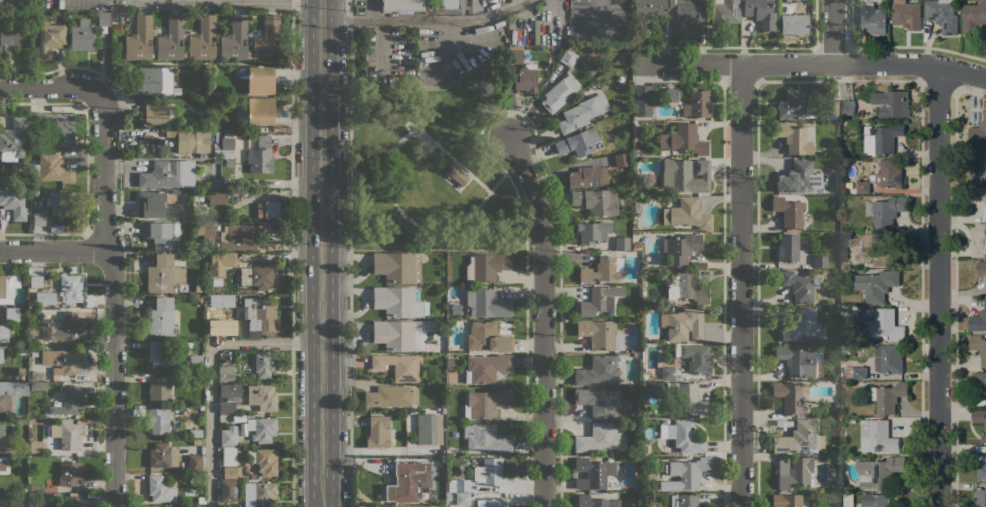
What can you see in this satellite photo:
road: (291, 0)
road: (163, 1)
road: (203, 1)
road: (110, 2)
road: (217, 2)
building: (447, 4)
building: (404, 5)
road: (475, 10)
road: (371, 11)
building: (648, 11)
building: (724, 11)
building: (905, 12)
building: (760, 13)
building: (685, 14)
building: (942, 15)
building: (973, 17)
building: (103, 19)
building: (872, 19)
road: (425, 21)
building: (794, 24)
road: (833, 31)
building: (81, 36)
building: (139, 38)
building: (10, 39)
building: (171, 39)
building: (203, 39)
building: (235, 39)
building: (267, 39)
building: (49, 40)
building: (515, 55)
building: (568, 58)
road: (910, 63)
road: (737, 64)
building: (527, 78)
building: (154, 80)
building: (260, 80)
road: (48, 89)
building: (177, 91)
building: (817, 92)
building: (559, 93)
building: (671, 95)
building: (643, 101)
building: (892, 103)
building: (697, 105)
building: (794, 105)
building: (830, 109)
building: (848, 109)
building: (158, 111)
building: (260, 111)
building: (582, 113)
road: (349, 123)
building: (56, 127)
building: (978, 132)
building: (795, 137)
building: (687, 139)
building: (883, 139)
building: (13, 140)
building: (191, 140)
building: (577, 142)
road: (437, 144)
building: (227, 147)
building: (636, 152)
building: (216, 155)
building: (205, 156)
building: (261, 156)
building: (621, 160)
park: (431, 168)
building: (52, 169)
building: (980, 171)
building: (889, 173)
building: (458, 175)
building: (161, 176)
building: (679, 176)
building: (587, 177)
building: (798, 177)
building: (863, 187)
building: (853, 191)
building: (35, 193)
building: (980, 194)
building: (218, 197)
building: (13, 201)
building: (596, 201)
building: (61, 203)
building: (638, 206)
building: (158, 207)
building: (249, 207)
building: (269, 210)
building: (887, 211)
building: (788, 212)
building: (686, 214)
building: (37, 218)
building: (206, 227)
building: (199, 228)
road: (424, 228)
building: (593, 231)
building: (162, 233)
building: (240, 236)
building: (978, 240)
building: (622, 243)
building: (636, 246)
building: (176, 248)
building: (681, 248)
building: (788, 248)
road: (56, 249)
building: (876, 251)
road: (321, 253)
building: (820, 262)
building: (220, 263)
building: (489, 266)
building: (397, 267)
building: (981, 268)
building: (603, 269)
building: (163, 274)
building: (261, 277)
building: (34, 281)
road: (740, 285)
building: (876, 285)
building: (800, 286)
building: (8, 287)
road: (937, 287)
building: (685, 288)
building: (67, 290)
building: (33, 292)
road: (113, 298)
building: (235, 298)
building: (599, 300)
building: (398, 301)
building: (486, 303)
building: (259, 313)
building: (12, 314)
building: (160, 317)
building: (978, 320)
road: (545, 321)
building: (72, 324)
building: (683, 324)
building: (216, 326)
building: (800, 326)
building: (880, 326)
building: (241, 331)
building: (4, 333)
building: (600, 334)
building: (398, 335)
building: (487, 337)
building: (978, 347)
building: (23, 350)
building: (34, 354)
building: (1, 355)
building: (157, 355)
building: (695, 358)
building: (888, 359)
building: (64, 360)
building: (195, 361)
building: (796, 361)
building: (264, 362)
building: (398, 365)
building: (486, 368)
road: (212, 370)
building: (598, 370)
building: (20, 371)
building: (33, 372)
building: (667, 373)
building: (859, 373)
building: (226, 374)
building: (848, 375)
building: (980, 380)
building: (842, 384)
building: (39, 385)
building: (159, 388)
building: (230, 391)
building: (11, 393)
building: (392, 396)
building: (790, 396)
building: (263, 397)
building: (889, 397)
building: (685, 398)
building: (67, 401)
building: (598, 402)
building: (485, 403)
building: (836, 403)
building: (225, 406)
building: (644, 415)
building: (21, 421)
building: (157, 421)
building: (980, 421)
building: (186, 423)
road: (292, 424)
building: (262, 428)
building: (429, 429)
building: (378, 431)
building: (69, 433)
building: (683, 436)
building: (876, 436)
building: (2, 437)
building: (228, 437)
building: (598, 438)
building: (800, 438)
building: (485, 439)
building: (196, 441)
building: (36, 446)
building: (163, 455)
building: (228, 455)
building: (691, 457)
building: (818, 458)
building: (264, 460)
building: (194, 463)
building: (4, 465)
building: (231, 471)
building: (689, 471)
building: (793, 471)
building: (879, 471)
building: (70, 472)
building: (488, 472)
building: (595, 472)
building: (982, 472)
building: (195, 475)
building: (251, 476)
building: (405, 482)
building: (462, 485)
building: (33, 487)
building: (160, 489)
building: (228, 490)
building: (259, 494)
building: (980, 497)
building: (462, 500)
building: (786, 500)
building: (848, 500)
building: (876, 500)
building: (684, 501)
building: (70, 502)
building: (594, 502)
building: (494, 503)
building: (649, 503)
building: (1, 506)
building: (198, 506)

